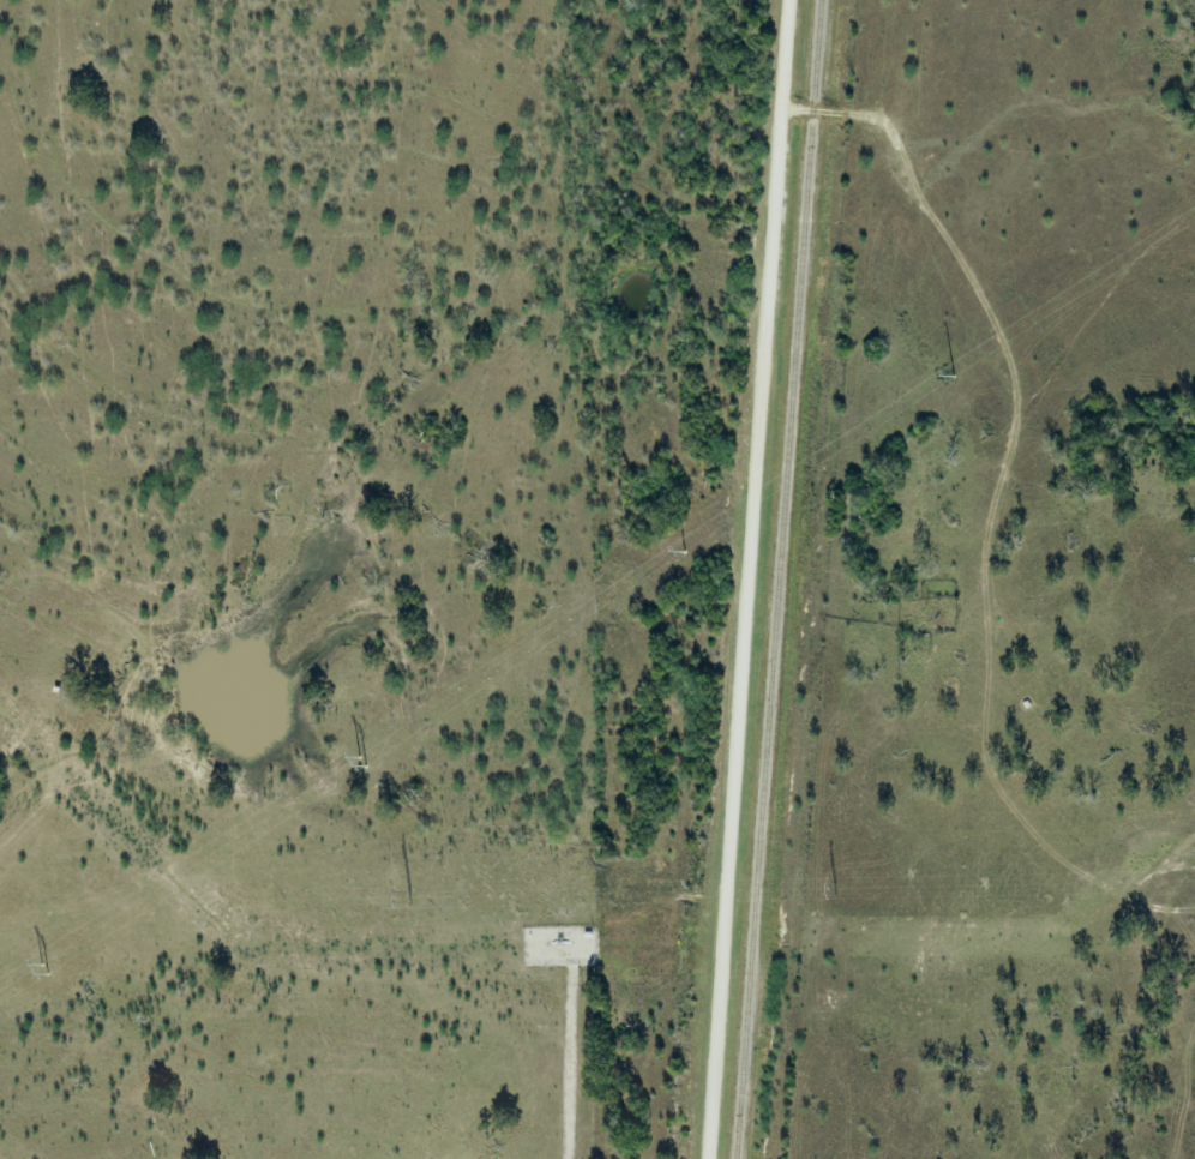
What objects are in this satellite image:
road: (833, 114)
power tower: (951, 377)
power tower: (683, 553)
road: (746, 579)
railway: (780, 579)
power tower: (360, 763)
power tower: (834, 889)
power tower: (409, 900)
power tower: (42, 972)

